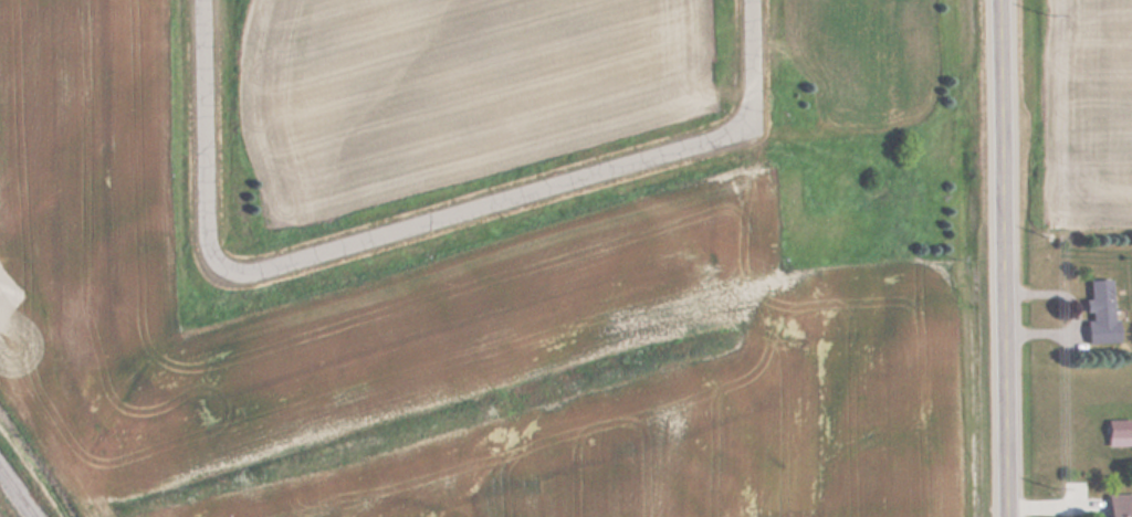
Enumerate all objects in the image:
road: (748, 60)
road: (203, 136)
road: (485, 201)
road: (1002, 258)
building: (1097, 309)
railway: (22, 485)
building: (1117, 505)

